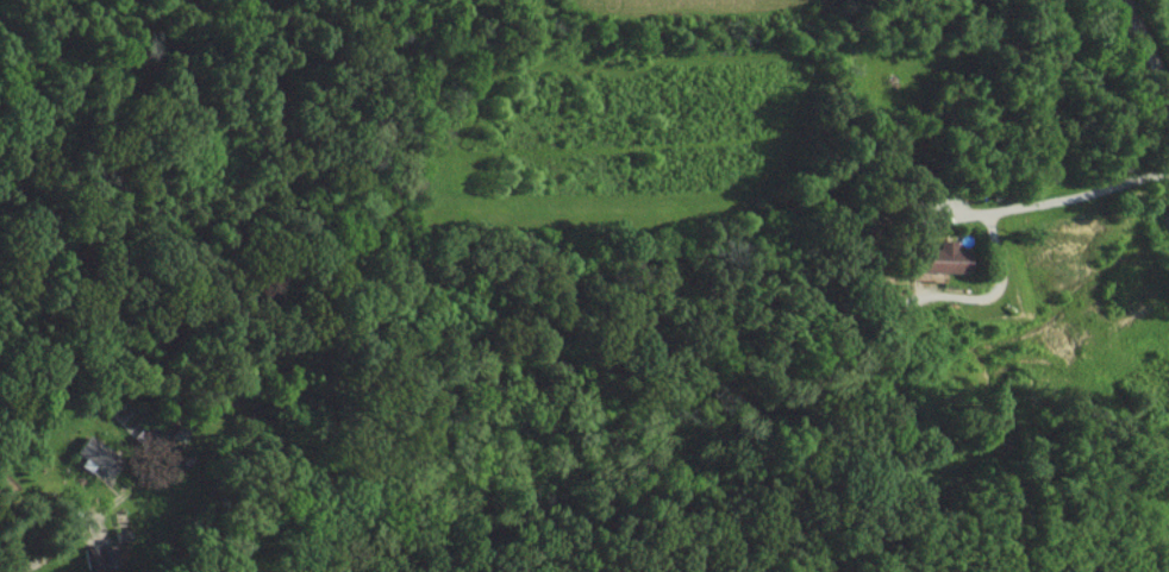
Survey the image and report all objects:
road: (1129, 102)
building: (934, 260)
building: (86, 448)
road: (55, 548)
building: (90, 555)

